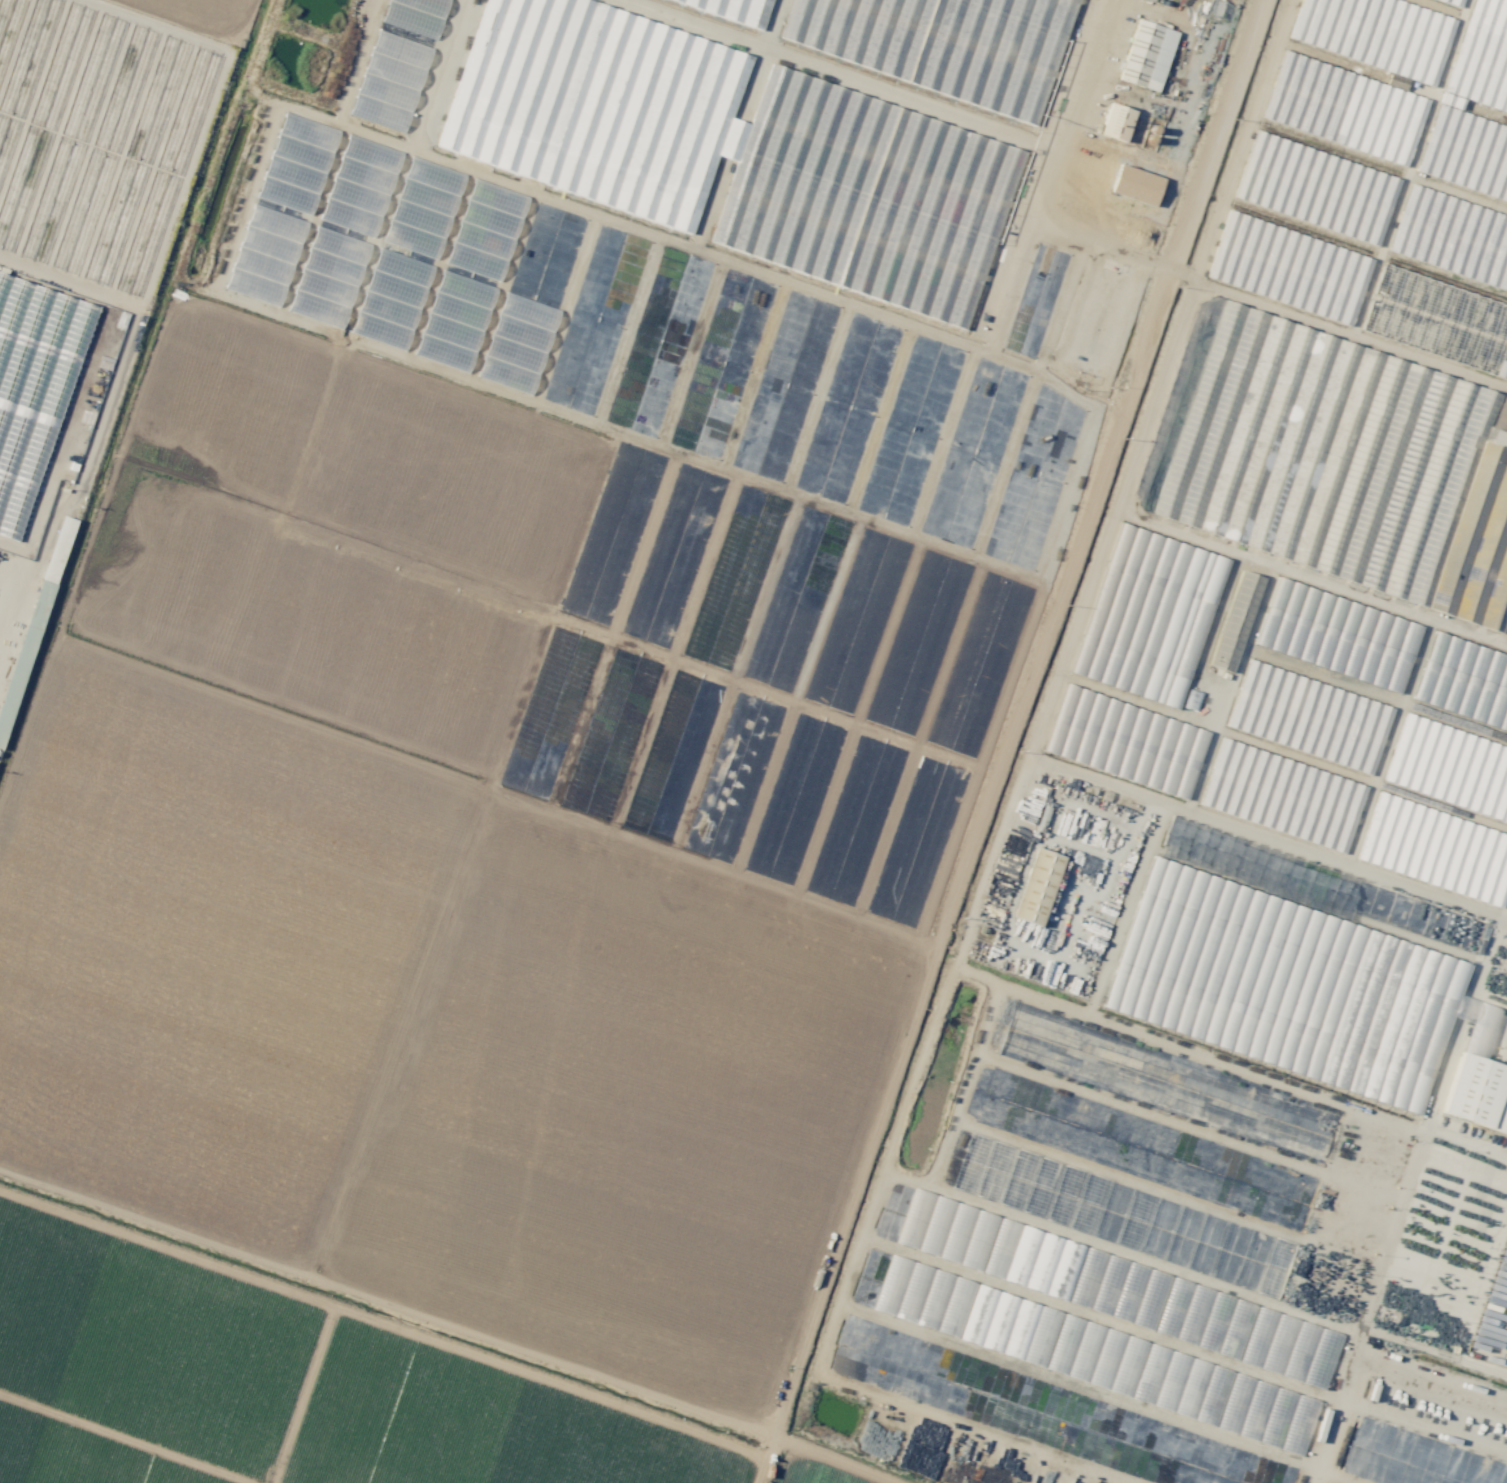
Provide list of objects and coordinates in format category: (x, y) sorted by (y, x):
building: (1148, 0)
crop: (217, 12)
building: (416, 15)
building: (945, 44)
building: (1481, 50)
building: (1147, 55)
road: (443, 71)
building: (390, 81)
building: (1116, 122)
building: (733, 150)
building: (295, 164)
road: (1064, 165)
building: (1136, 185)
building: (1264, 187)
building: (486, 229)
building: (1412, 250)
building: (265, 255)
building: (331, 267)
building: (1282, 268)
building: (454, 321)
building: (516, 345)
building: (33, 387)
building: (1339, 451)
building: (1149, 615)
building: (1338, 635)
building: (1464, 681)
road: (1037, 734)
building: (1125, 741)
building: (1450, 767)
building: (1256, 813)
building: (1436, 849)
building: (1037, 886)
crop: (449, 934)
building: (1478, 1094)
road: (1405, 1199)
road: (1432, 1374)
building: (1242, 1406)
road: (1423, 1433)
road: (1333, 1477)

